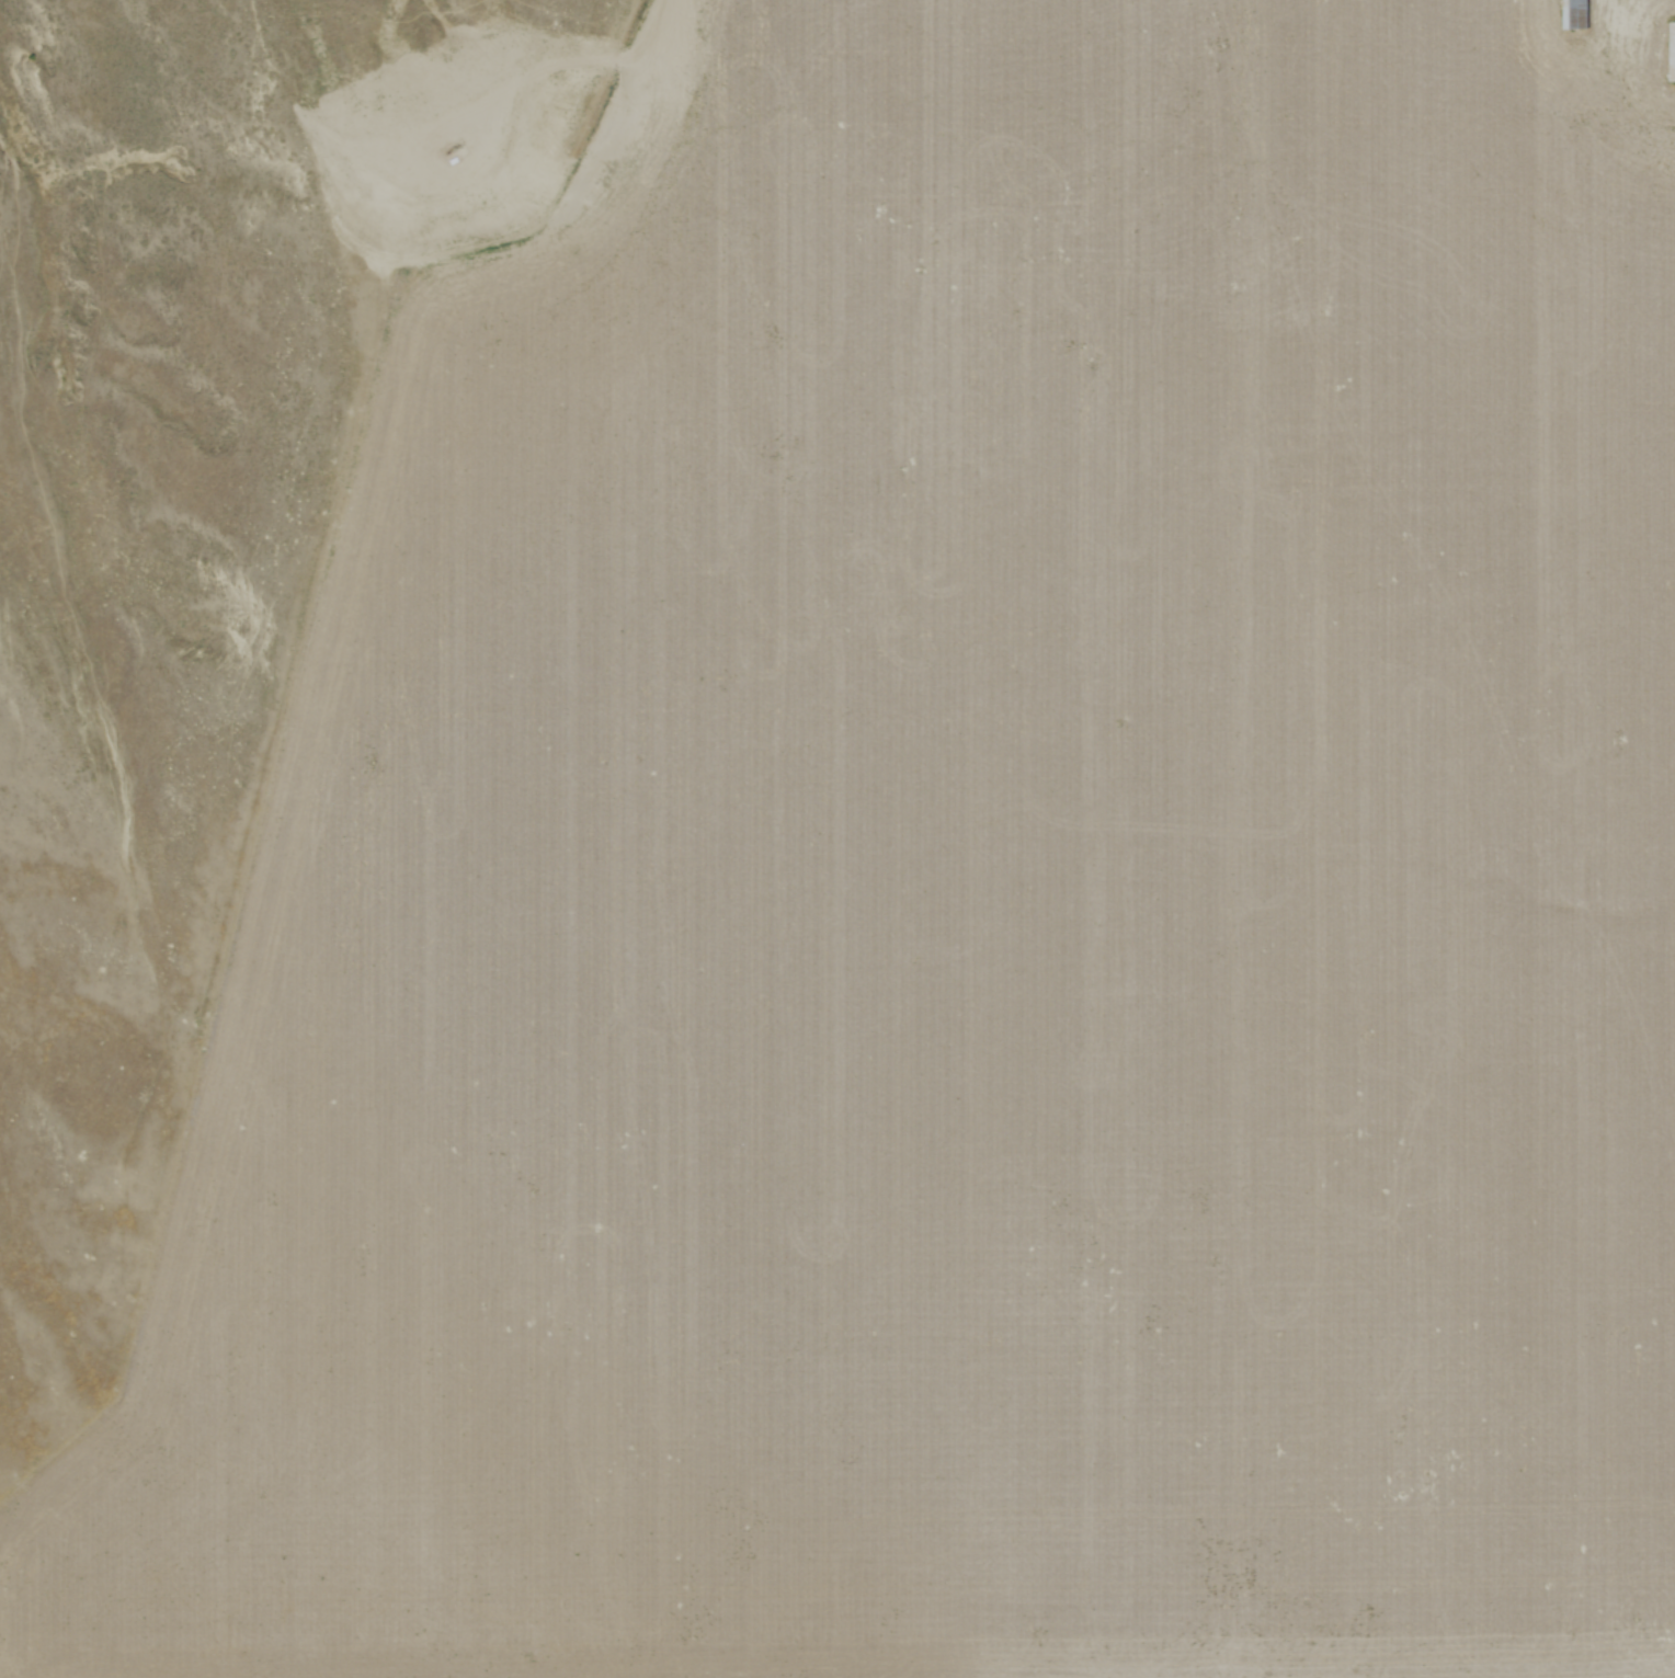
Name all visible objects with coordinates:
building: (1576, 14)
building: (1673, 52)

